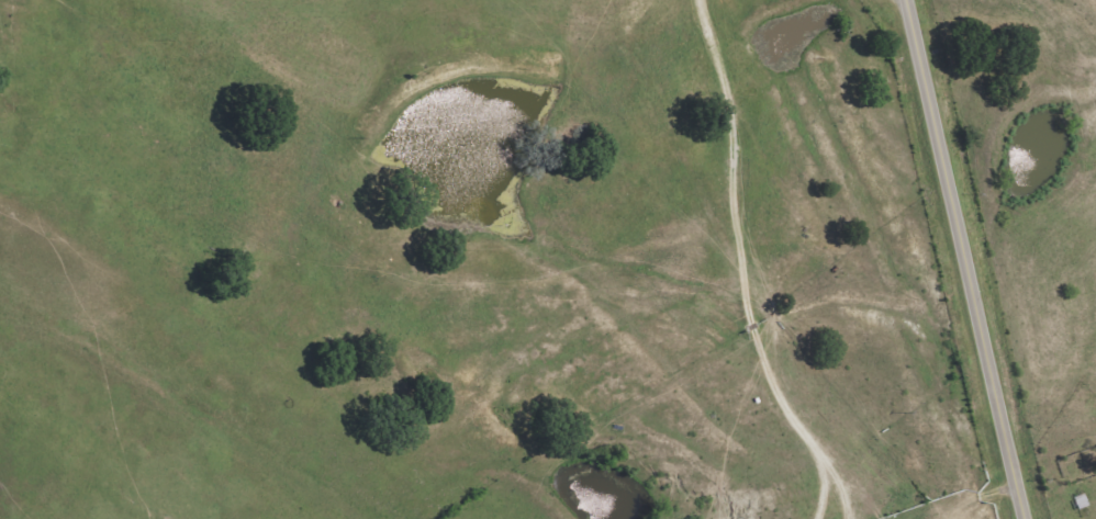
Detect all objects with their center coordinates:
road: (962, 259)
road: (469, 440)

